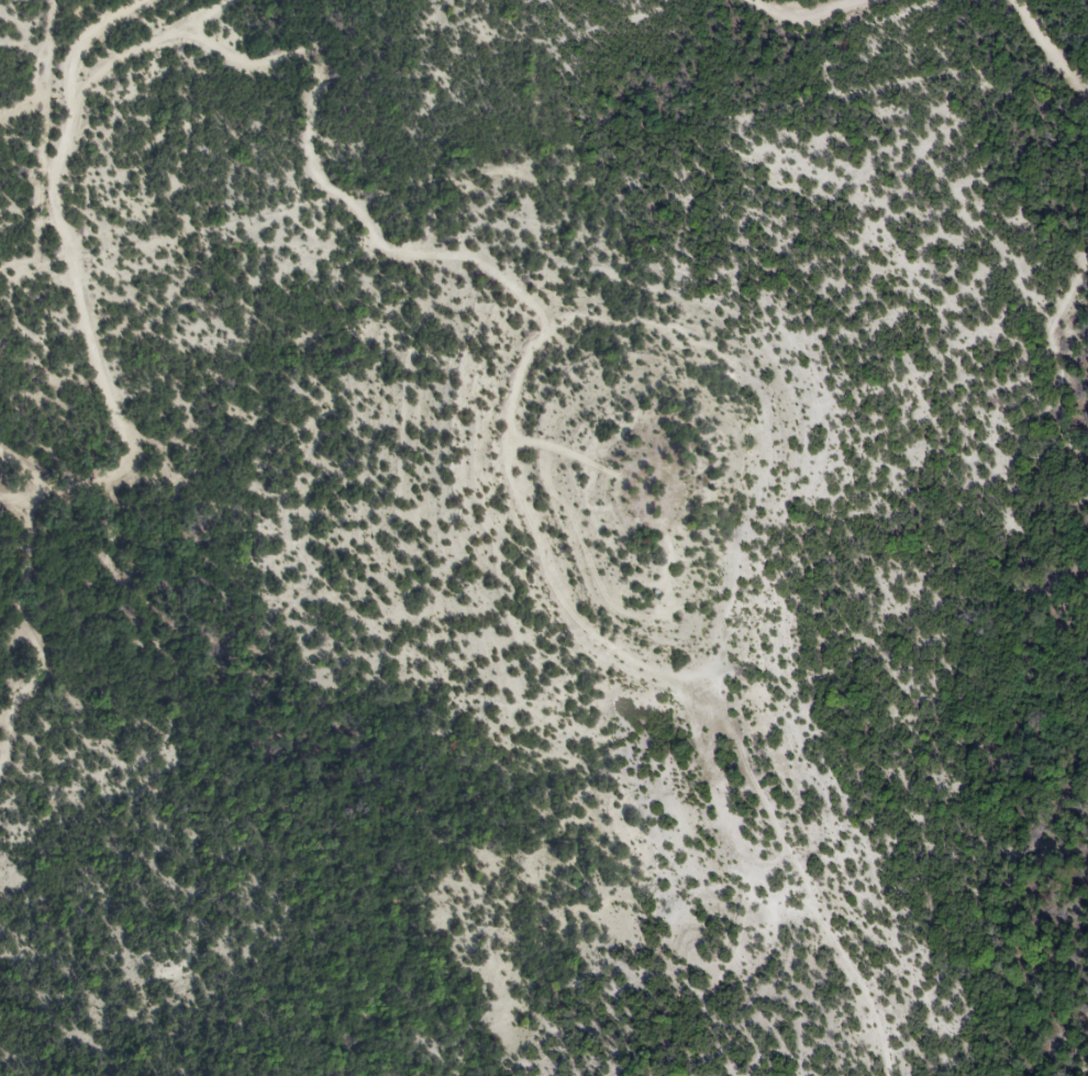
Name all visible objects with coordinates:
road: (779, 7)
road: (748, 132)
road: (43, 264)

